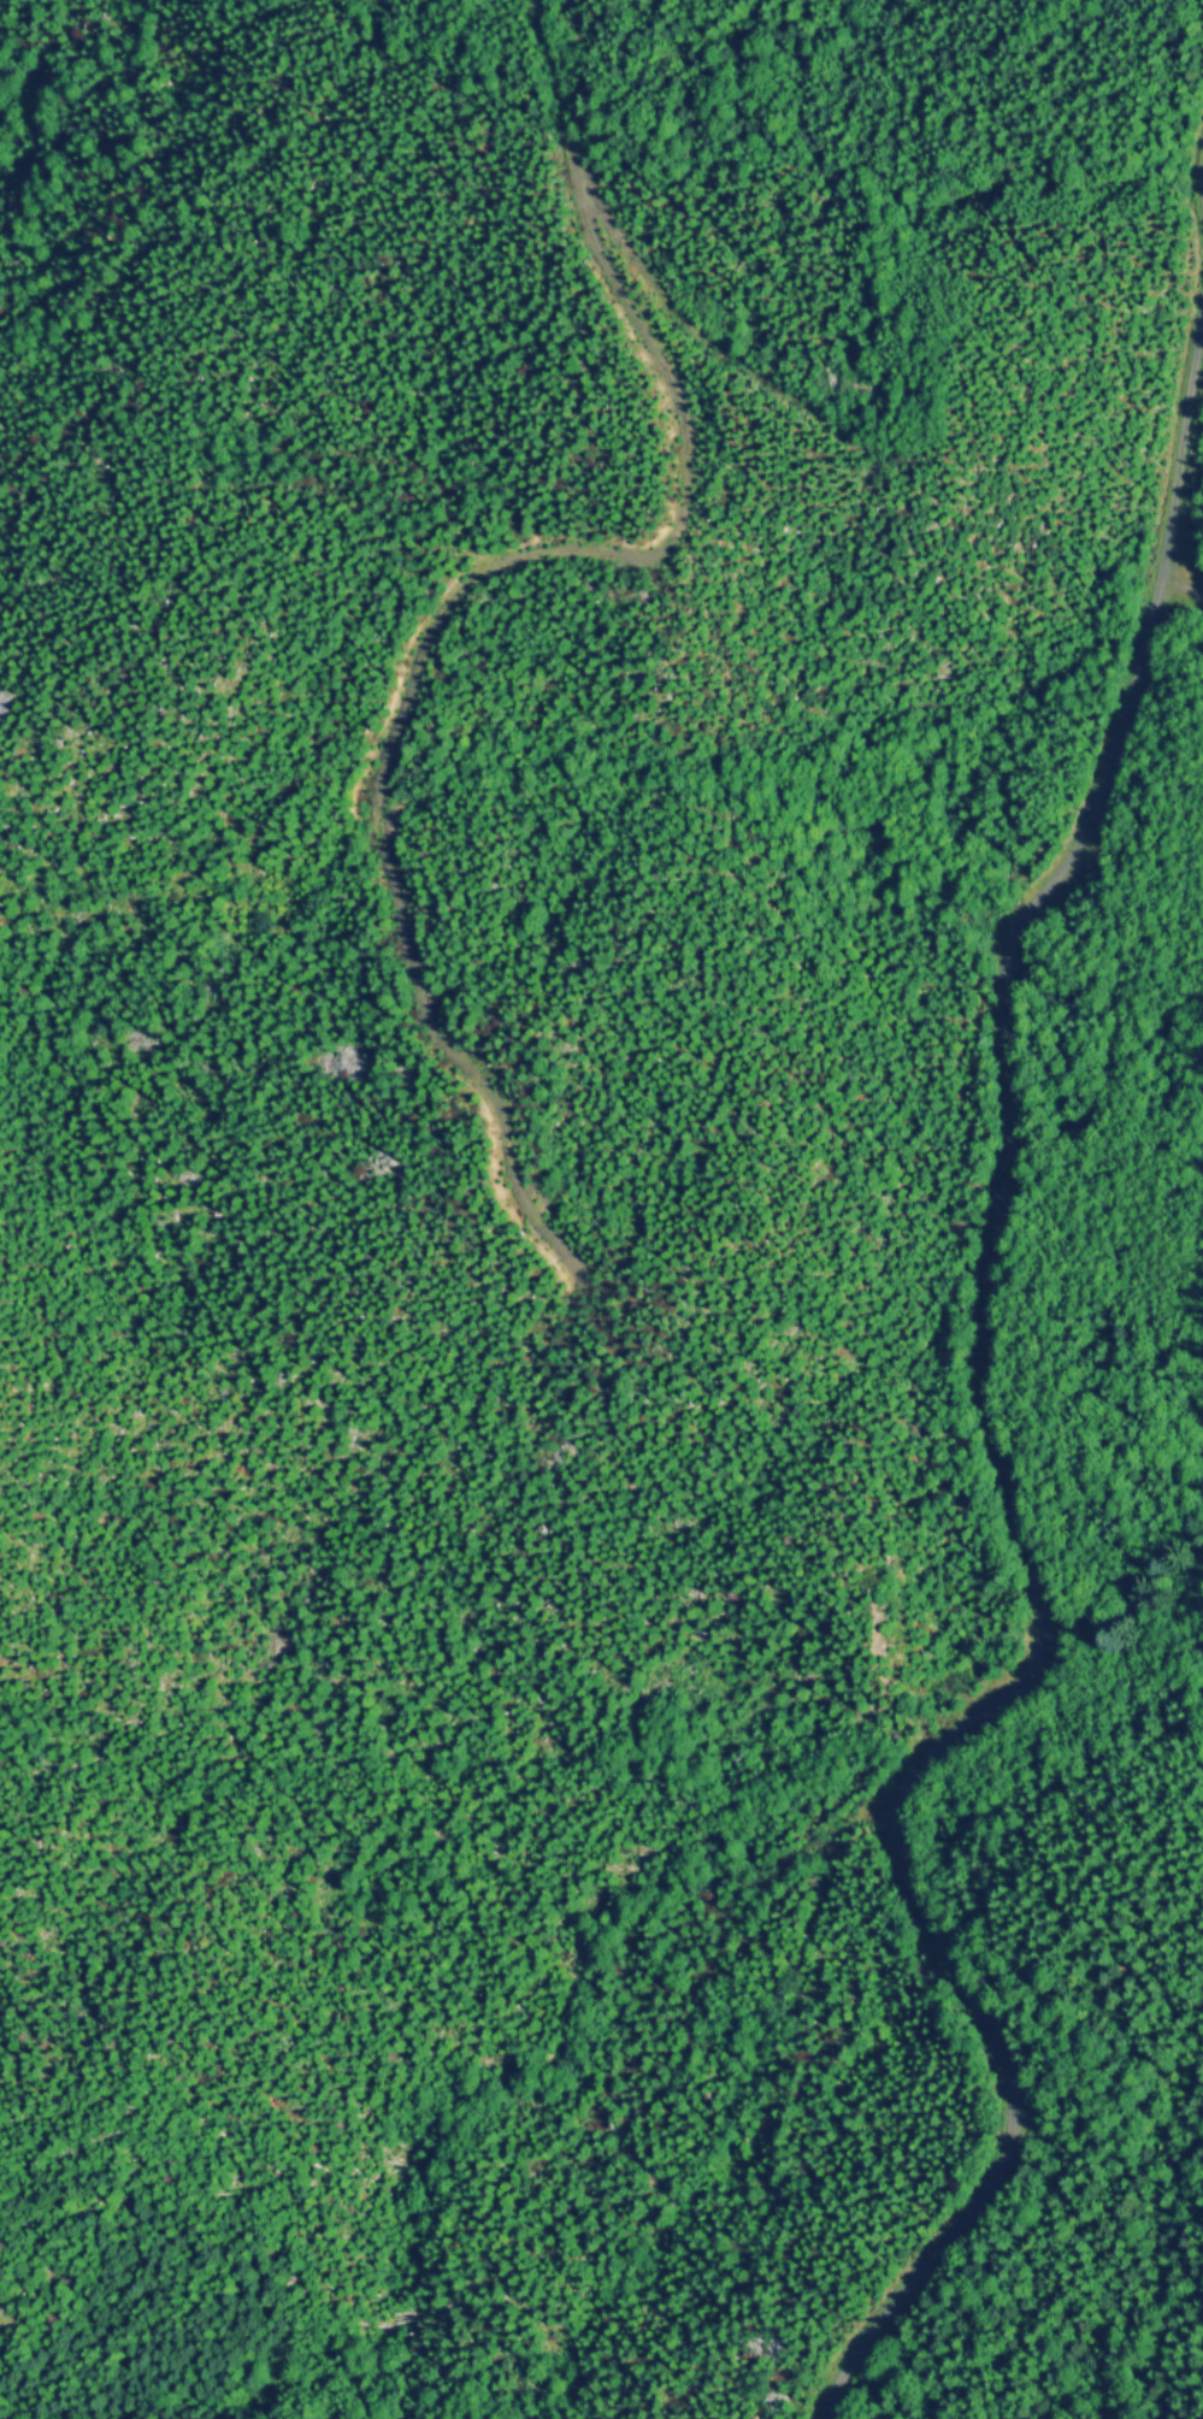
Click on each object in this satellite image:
road: (1181, 479)
road: (983, 1514)

